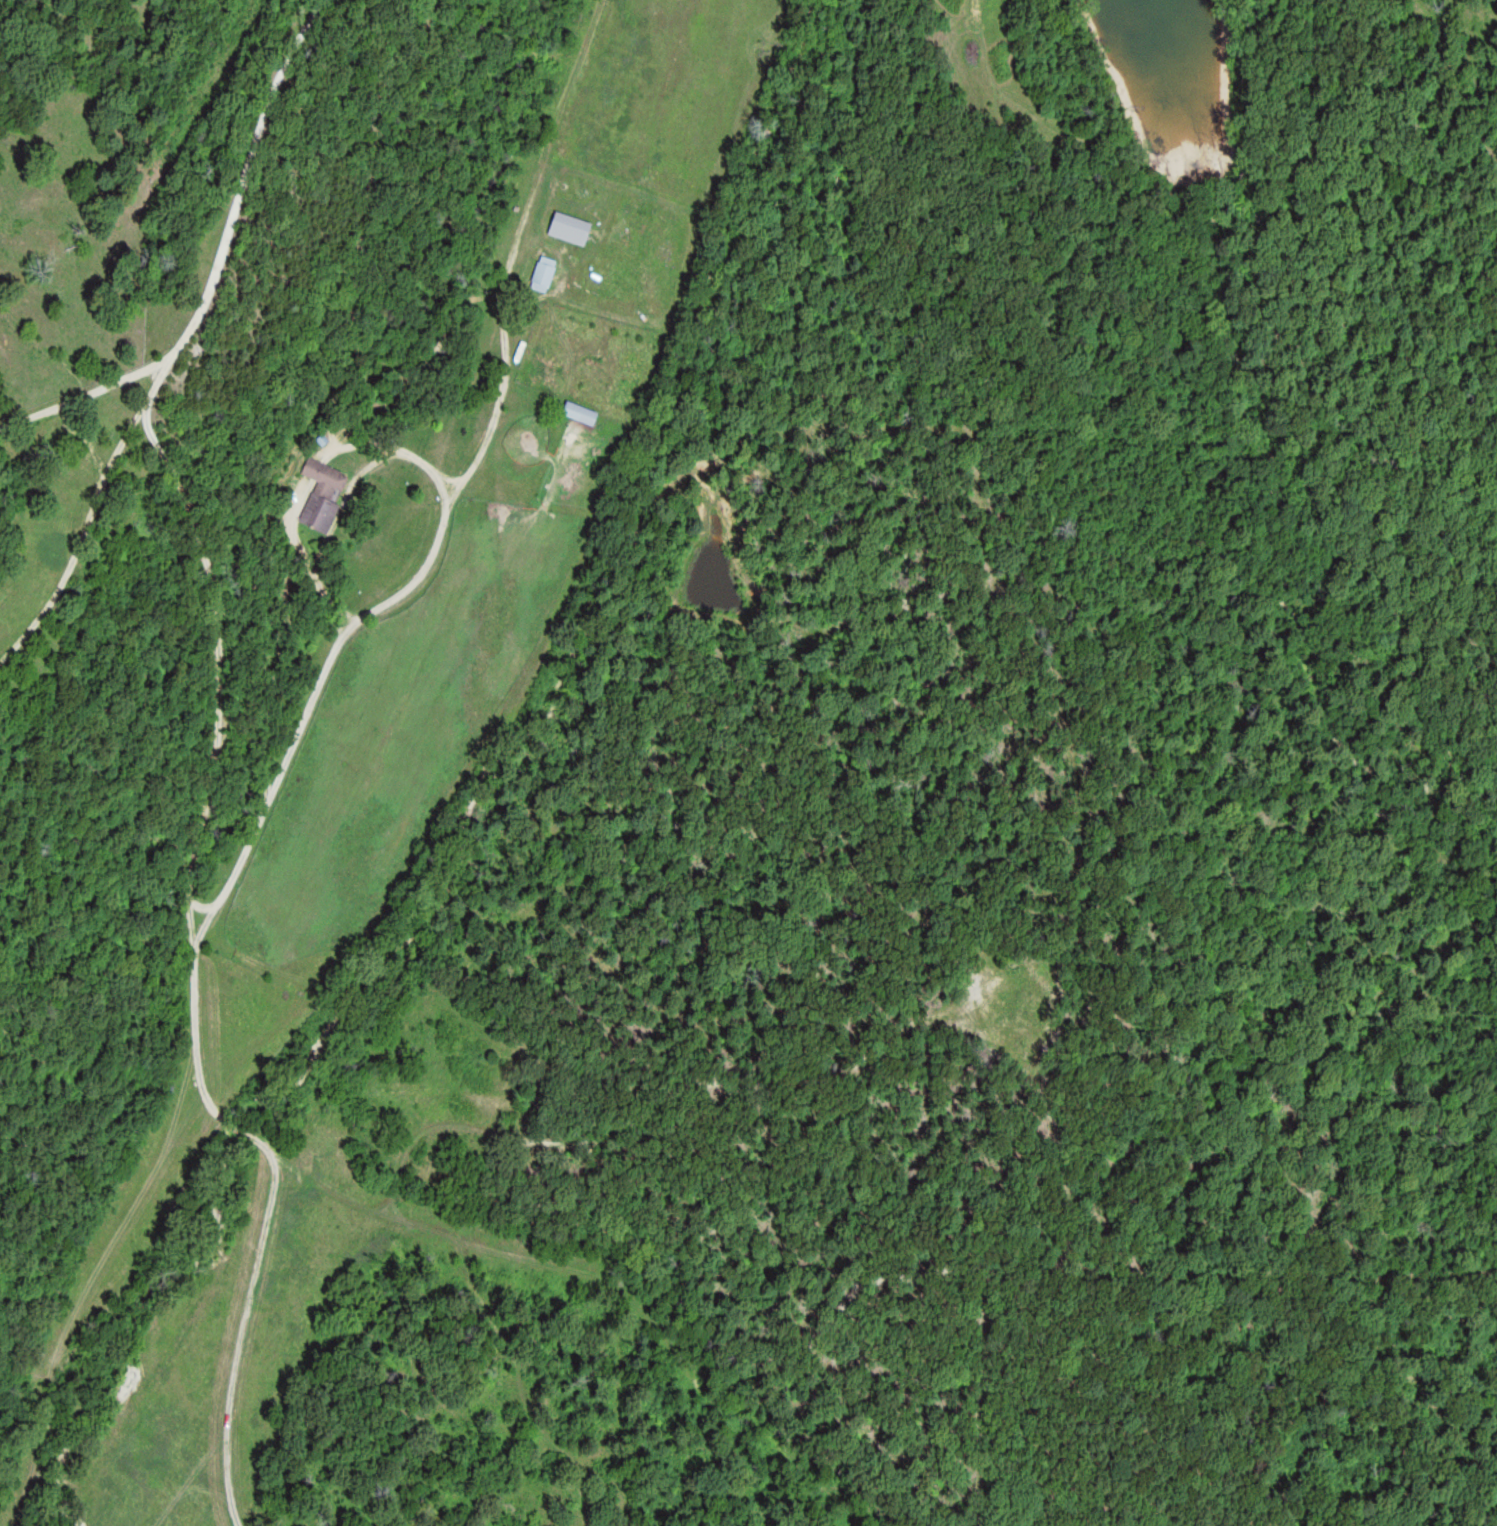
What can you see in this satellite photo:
building: (572, 227)
road: (115, 236)
road: (213, 267)
building: (546, 273)
building: (582, 412)
building: (325, 494)
road: (84, 512)
road: (250, 520)
road: (196, 989)

